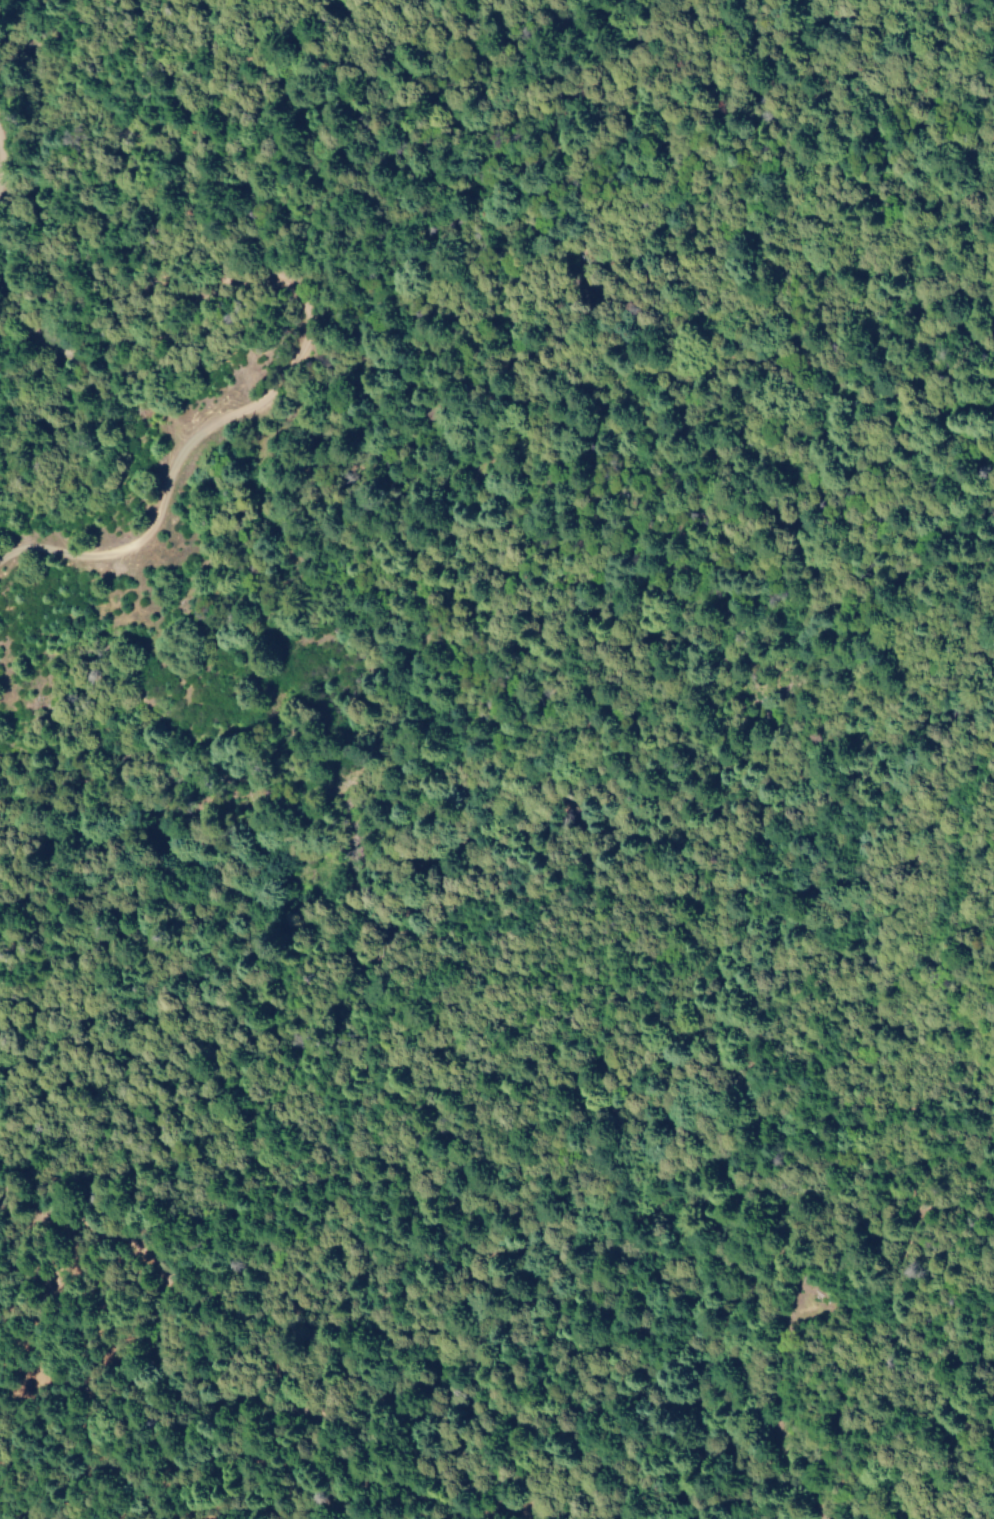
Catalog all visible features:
road: (5, 154)
road: (321, 337)

